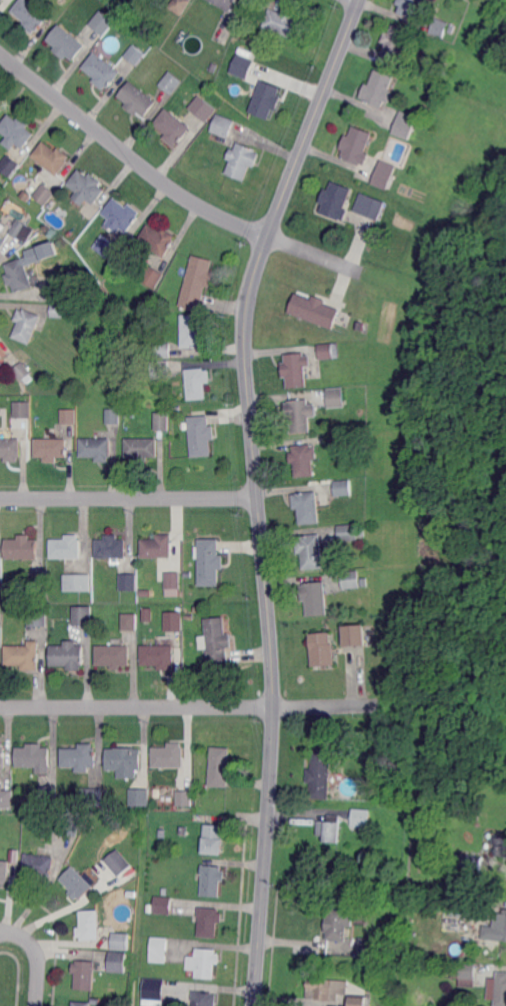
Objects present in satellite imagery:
building: (1, 1)
building: (225, 4)
building: (180, 6)
building: (410, 7)
building: (30, 15)
building: (102, 22)
building: (286, 23)
building: (440, 27)
building: (451, 28)
building: (432, 41)
building: (66, 43)
building: (395, 44)
building: (135, 54)
building: (214, 67)
building: (242, 67)
building: (102, 71)
building: (172, 82)
building: (380, 89)
building: (138, 99)
building: (267, 99)
building: (203, 109)
building: (224, 125)
building: (405, 125)
building: (173, 127)
building: (16, 132)
building: (357, 146)
building: (52, 158)
building: (242, 161)
building: (9, 165)
building: (385, 174)
road: (169, 186)
building: (86, 188)
building: (45, 194)
building: (336, 201)
building: (370, 206)
building: (120, 216)
building: (34, 227)
building: (19, 228)
building: (158, 240)
building: (2, 243)
building: (109, 248)
building: (19, 275)
building: (153, 277)
building: (198, 282)
building: (60, 288)
building: (59, 310)
building: (316, 310)
building: (26, 325)
building: (360, 326)
building: (194, 331)
building: (163, 350)
building: (329, 351)
building: (1, 356)
building: (160, 369)
building: (297, 369)
building: (23, 371)
building: (198, 383)
building: (334, 398)
building: (22, 410)
building: (299, 415)
building: (69, 416)
building: (113, 417)
building: (163, 421)
building: (202, 436)
building: (339, 438)
building: (142, 448)
building: (10, 449)
building: (51, 449)
building: (97, 449)
building: (304, 459)
building: (343, 488)
road: (257, 493)
road: (129, 498)
building: (308, 506)
building: (348, 532)
building: (67, 547)
building: (112, 547)
building: (158, 547)
building: (22, 548)
building: (311, 551)
building: (210, 562)
building: (173, 580)
building: (351, 580)
building: (38, 581)
building: (129, 582)
building: (79, 583)
building: (315, 598)
building: (10, 609)
building: (1, 615)
building: (147, 615)
building: (83, 616)
building: (38, 617)
building: (174, 621)
building: (131, 622)
building: (353, 636)
building: (218, 641)
building: (321, 649)
building: (23, 655)
building: (69, 655)
building: (114, 656)
building: (159, 656)
road: (187, 706)
building: (170, 755)
building: (3, 757)
building: (35, 757)
building: (81, 757)
building: (125, 758)
building: (221, 767)
building: (320, 774)
building: (204, 786)
building: (50, 795)
building: (94, 797)
building: (185, 797)
building: (7, 798)
building: (139, 798)
building: (360, 820)
building: (70, 825)
building: (93, 827)
building: (331, 828)
building: (184, 831)
building: (214, 839)
building: (500, 844)
building: (119, 862)
building: (475, 863)
building: (40, 865)
building: (5, 871)
building: (458, 876)
building: (212, 880)
building: (78, 883)
building: (163, 904)
building: (463, 908)
building: (209, 920)
building: (503, 923)
building: (336, 924)
building: (90, 925)
building: (119, 941)
building: (395, 945)
building: (368, 947)
building: (159, 951)
road: (37, 956)
building: (118, 961)
building: (205, 962)
building: (464, 971)
building: (85, 974)
building: (326, 988)
building: (501, 988)
building: (205, 998)
building: (358, 1001)
building: (82, 1003)

